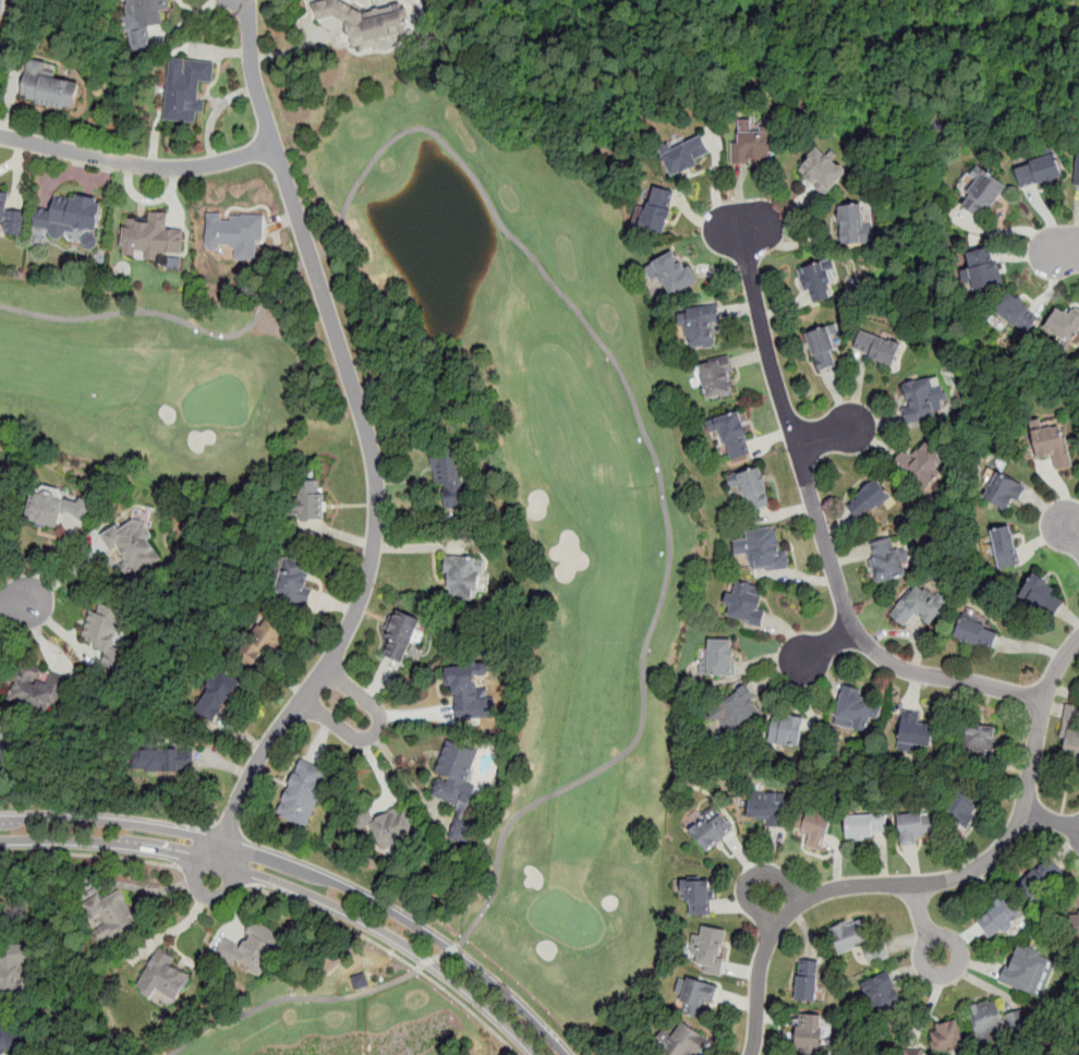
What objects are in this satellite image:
building: (2, 7)
building: (144, 21)
building: (368, 21)
building: (48, 88)
building: (186, 88)
building: (753, 146)
building: (687, 155)
road: (136, 165)
building: (1041, 168)
building: (1077, 170)
building: (822, 171)
building: (982, 193)
building: (655, 210)
building: (70, 216)
building: (10, 221)
building: (852, 225)
building: (234, 235)
building: (151, 237)
road: (1067, 247)
road: (312, 262)
building: (984, 268)
building: (675, 272)
building: (819, 281)
building: (1018, 314)
road: (168, 315)
building: (698, 325)
building: (1063, 325)
building: (823, 348)
building: (878, 348)
building: (716, 379)
building: (922, 401)
road: (824, 433)
road: (368, 437)
building: (731, 437)
building: (1052, 444)
road: (654, 456)
building: (921, 464)
building: (448, 477)
building: (751, 489)
building: (1005, 493)
building: (310, 498)
building: (0, 499)
building: (868, 500)
building: (57, 508)
road: (821, 527)
road: (1071, 534)
building: (134, 547)
building: (1005, 547)
building: (760, 549)
park: (616, 559)
building: (887, 559)
building: (464, 575)
building: (293, 581)
building: (1040, 593)
road: (14, 602)
building: (743, 605)
building: (920, 606)
building: (106, 632)
building: (977, 634)
building: (401, 635)
building: (259, 641)
road: (828, 642)
building: (722, 658)
building: (464, 686)
building: (41, 689)
building: (217, 695)
building: (852, 708)
building: (730, 715)
building: (787, 726)
road: (377, 731)
building: (913, 733)
building: (979, 741)
building: (2, 742)
building: (1070, 743)
building: (165, 761)
building: (454, 775)
building: (303, 792)
building: (962, 805)
building: (766, 809)
road: (1052, 820)
building: (866, 827)
building: (911, 828)
building: (389, 829)
building: (708, 829)
building: (812, 829)
road: (87, 854)
road: (214, 874)
road: (750, 876)
road: (301, 880)
road: (934, 881)
building: (1042, 881)
building: (695, 898)
building: (114, 915)
building: (998, 918)
road: (923, 923)
building: (1075, 925)
building: (858, 939)
building: (251, 950)
building: (706, 950)
road: (395, 954)
road: (436, 956)
building: (14, 968)
building: (1028, 972)
building: (163, 979)
building: (807, 982)
road: (288, 996)
building: (695, 996)
building: (880, 997)
building: (994, 1020)
building: (810, 1033)
building: (8, 1036)
building: (946, 1038)
building: (682, 1040)
building: (646, 1053)

